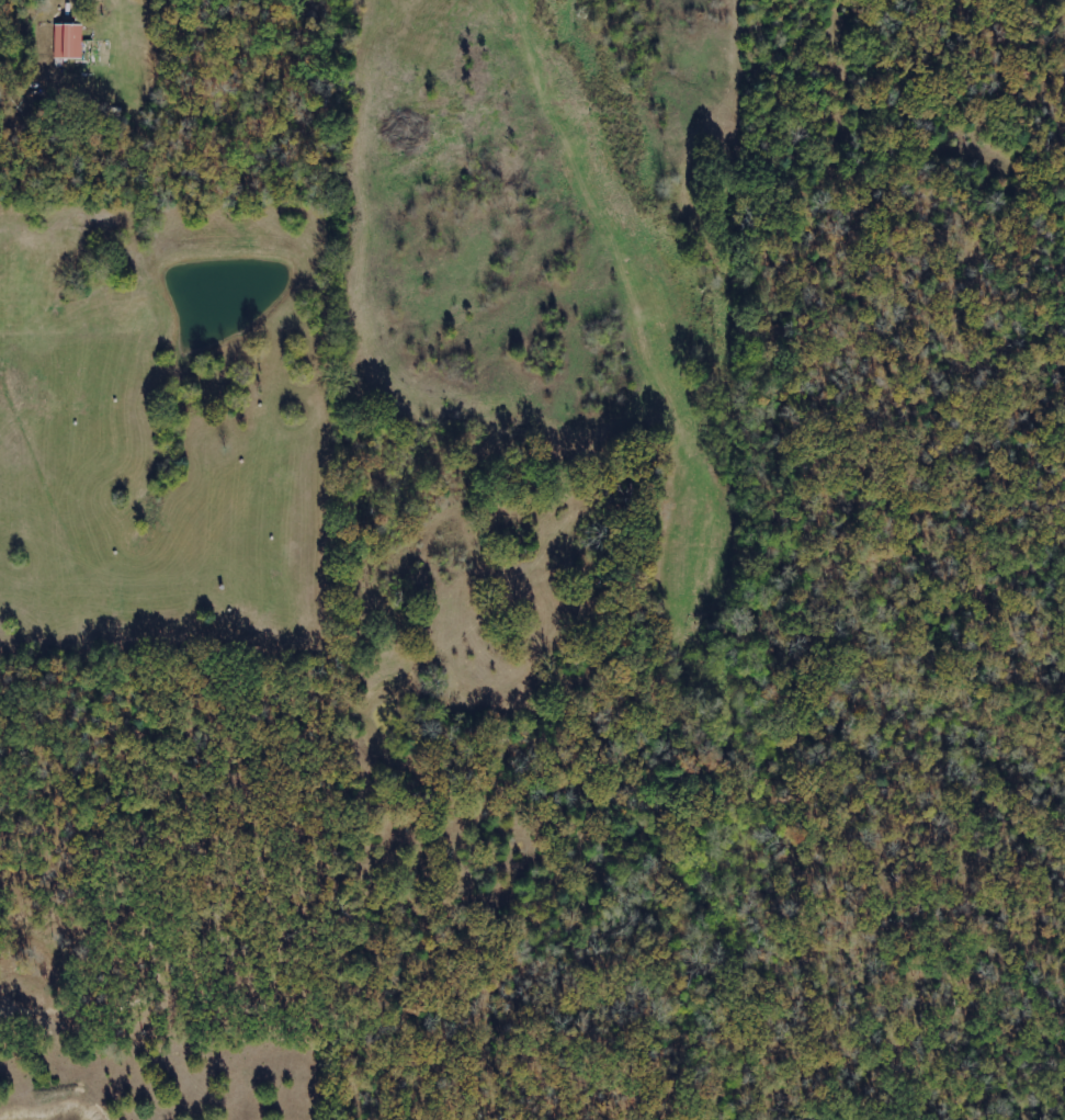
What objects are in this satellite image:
building: (69, 42)
road: (333, 344)

